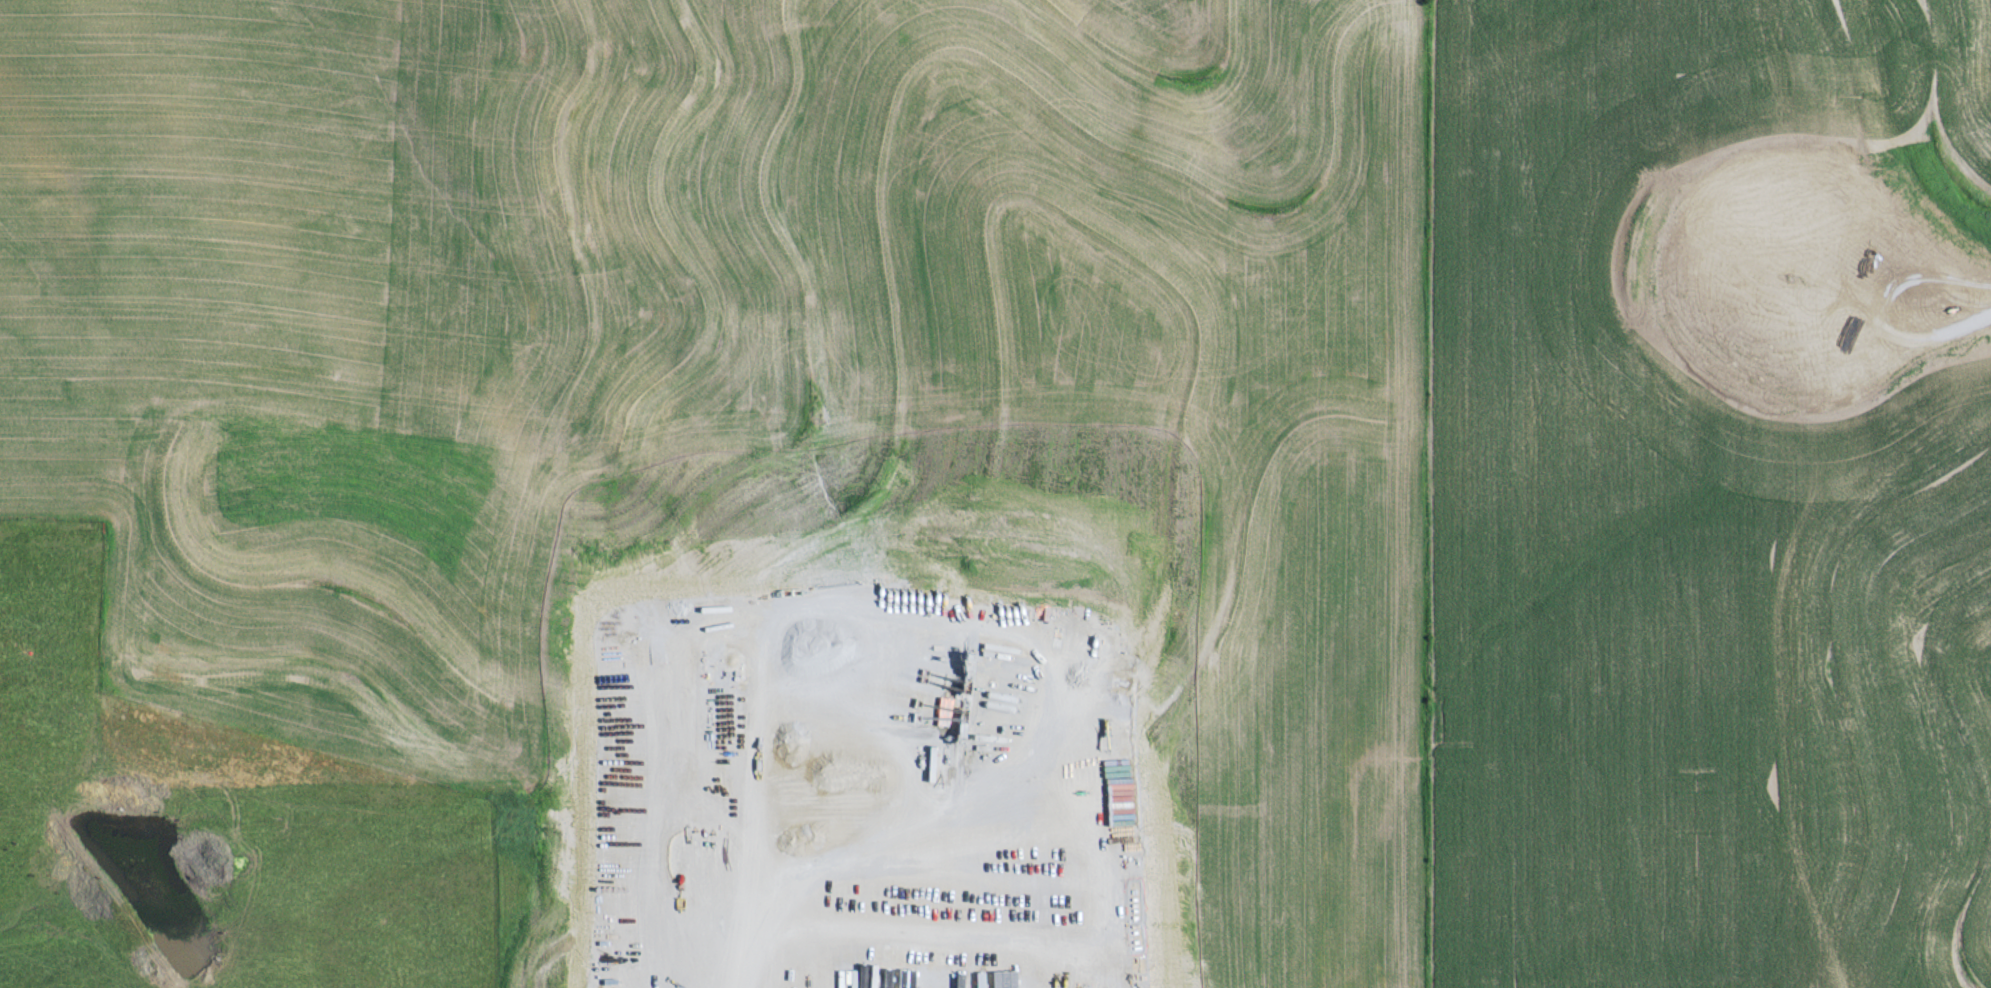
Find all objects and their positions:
wind turbine: (1792, 274)

